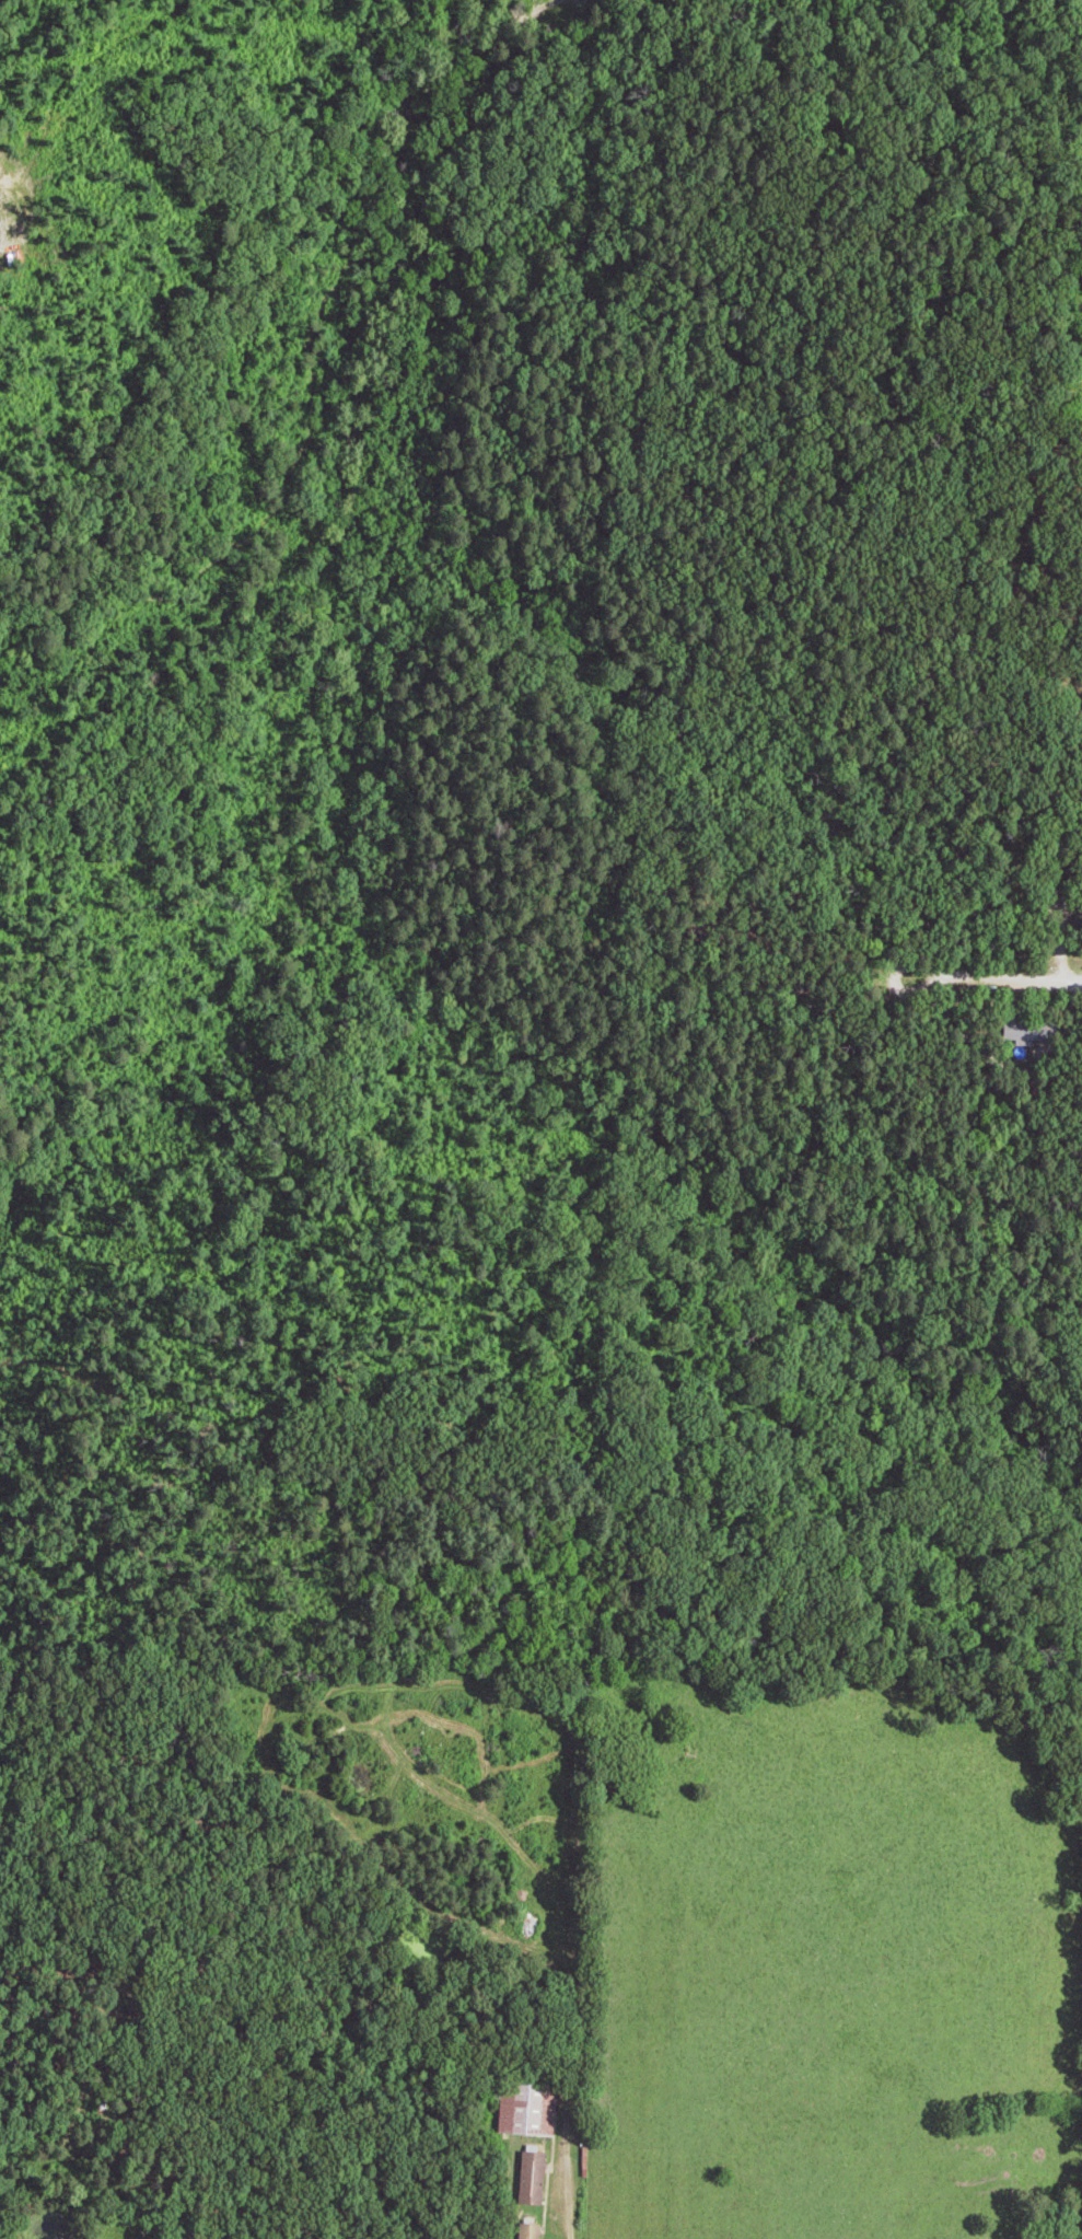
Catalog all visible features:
road: (1000, 976)
building: (537, 2161)
road: (562, 2174)
building: (534, 2191)

